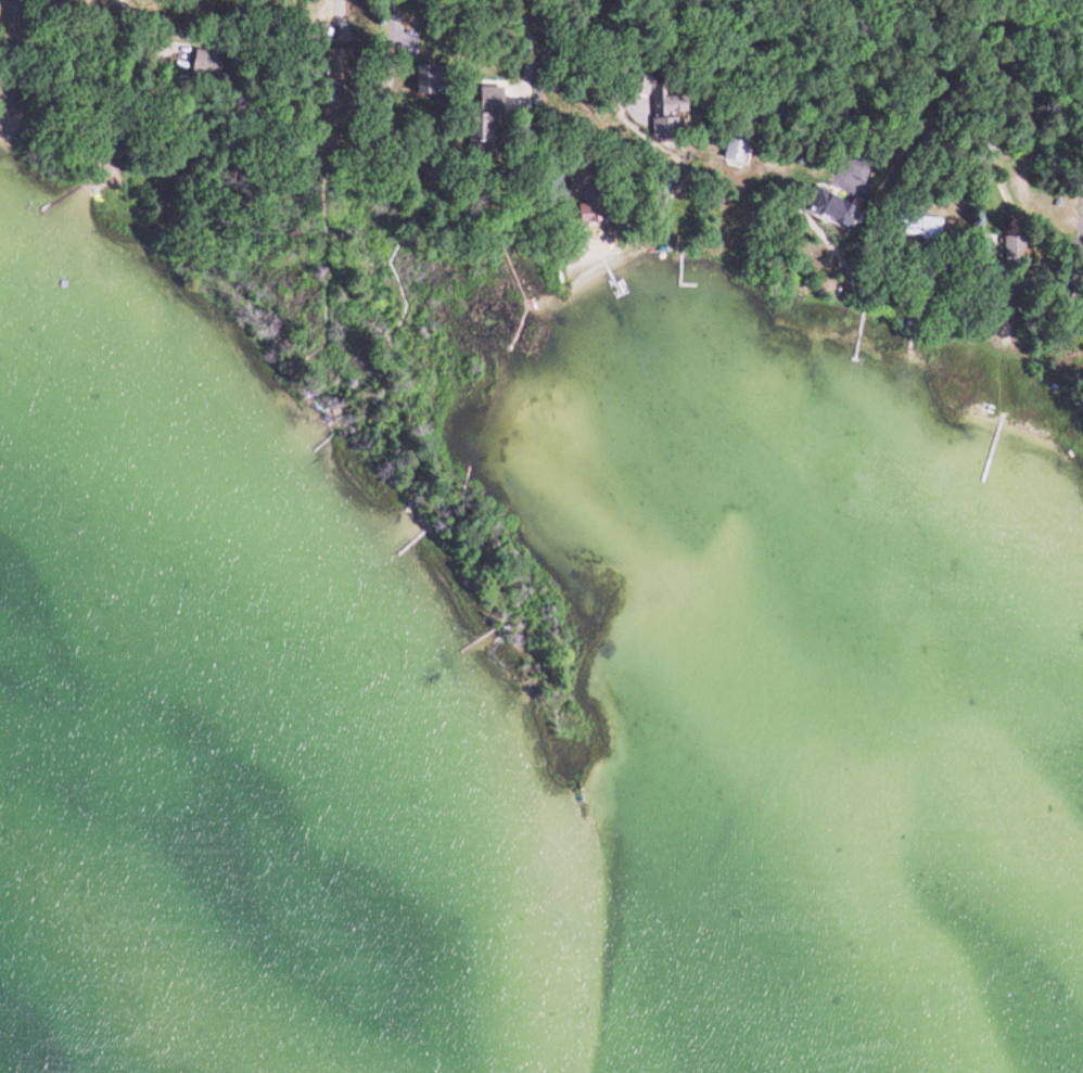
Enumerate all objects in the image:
road: (336, 8)
road: (397, 11)
road: (941, 35)
road: (776, 52)
road: (596, 55)
building: (205, 66)
building: (335, 67)
road: (536, 80)
building: (428, 82)
building: (489, 116)
building: (735, 152)
building: (591, 193)
building: (833, 210)
building: (920, 229)
building: (1014, 252)

